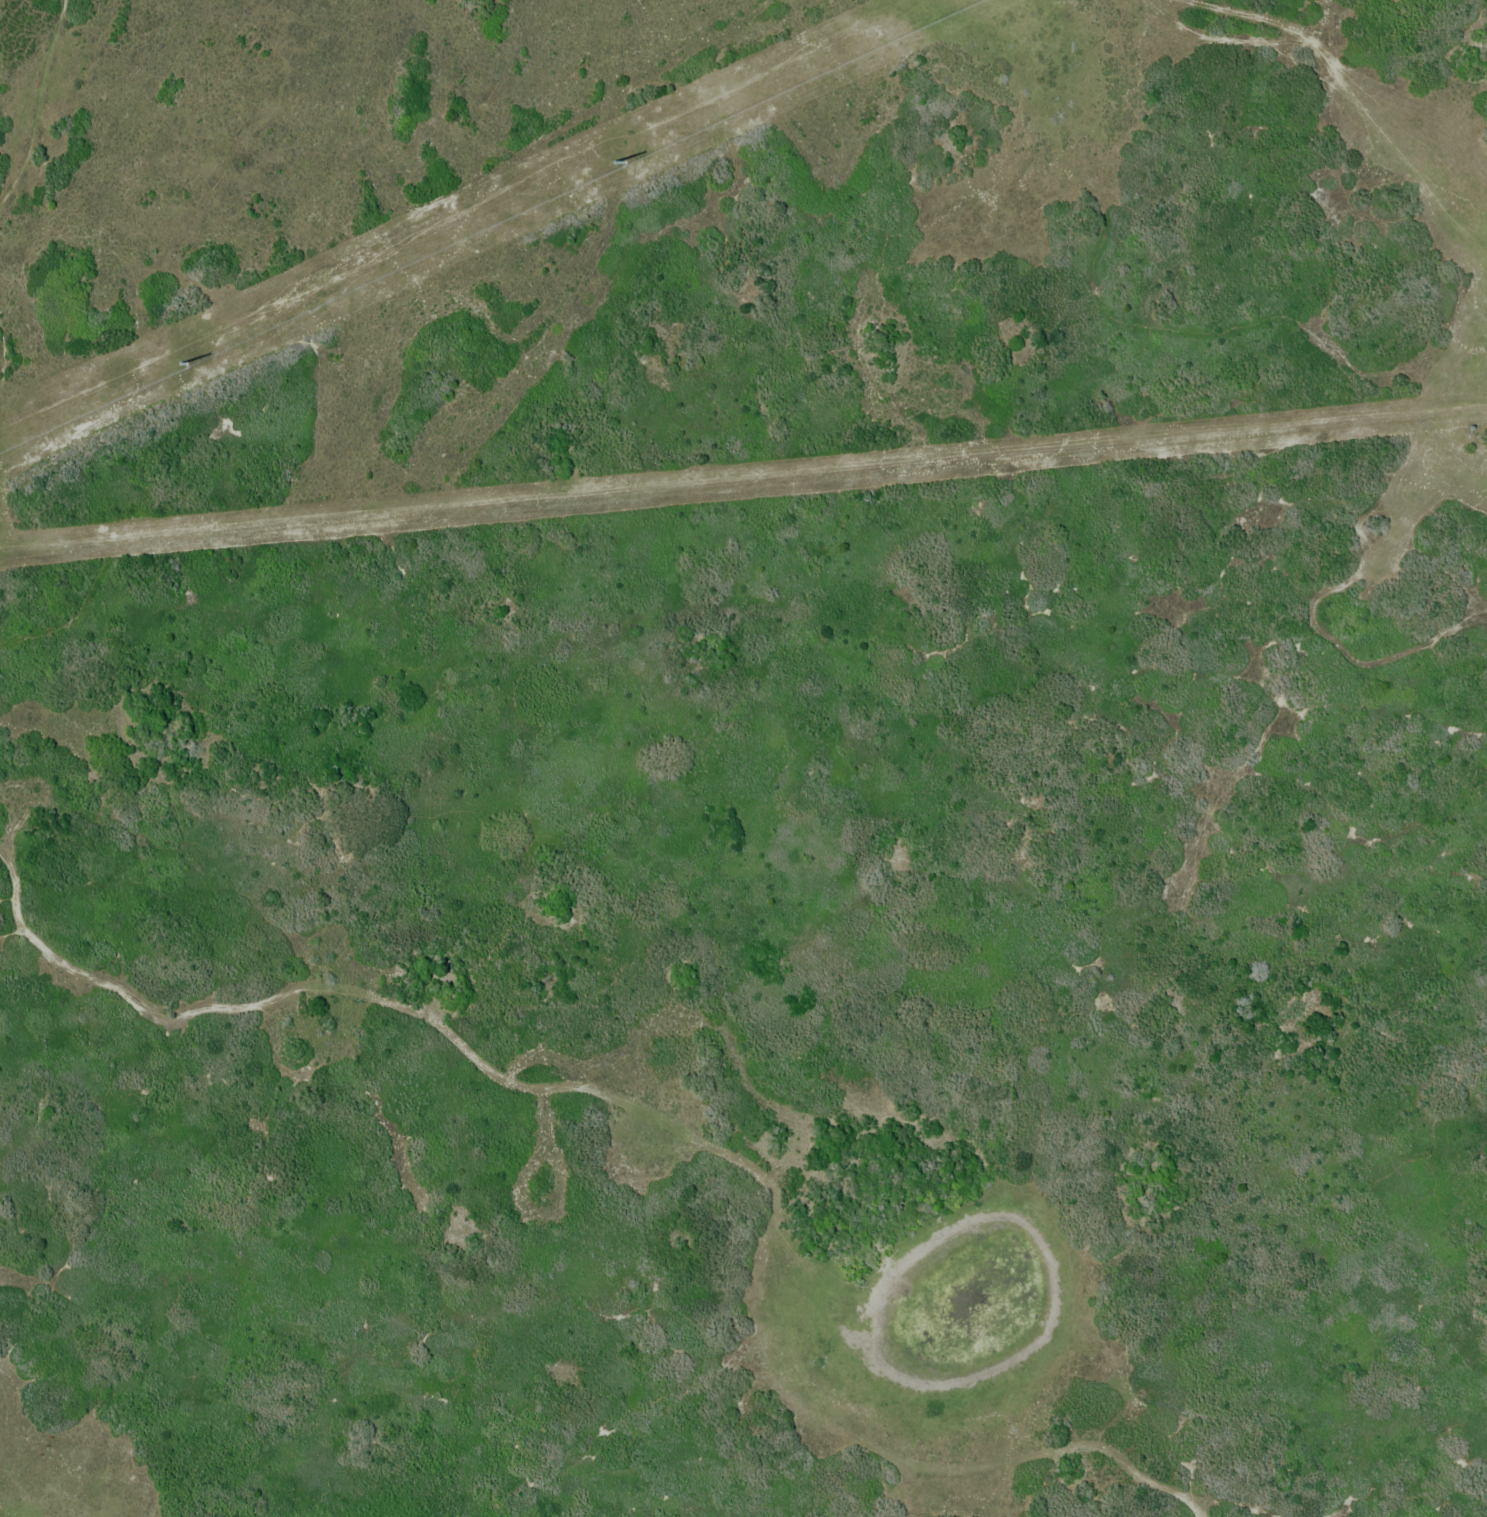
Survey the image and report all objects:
power tower: (613, 160)
power tower: (177, 363)

